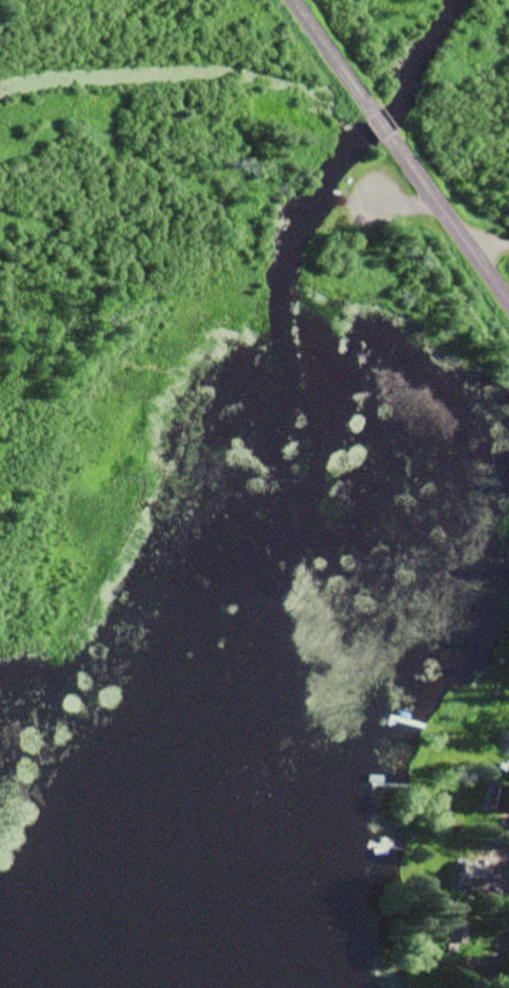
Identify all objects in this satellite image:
road: (401, 151)
building: (503, 800)
building: (460, 873)
building: (460, 932)
road: (508, 986)

